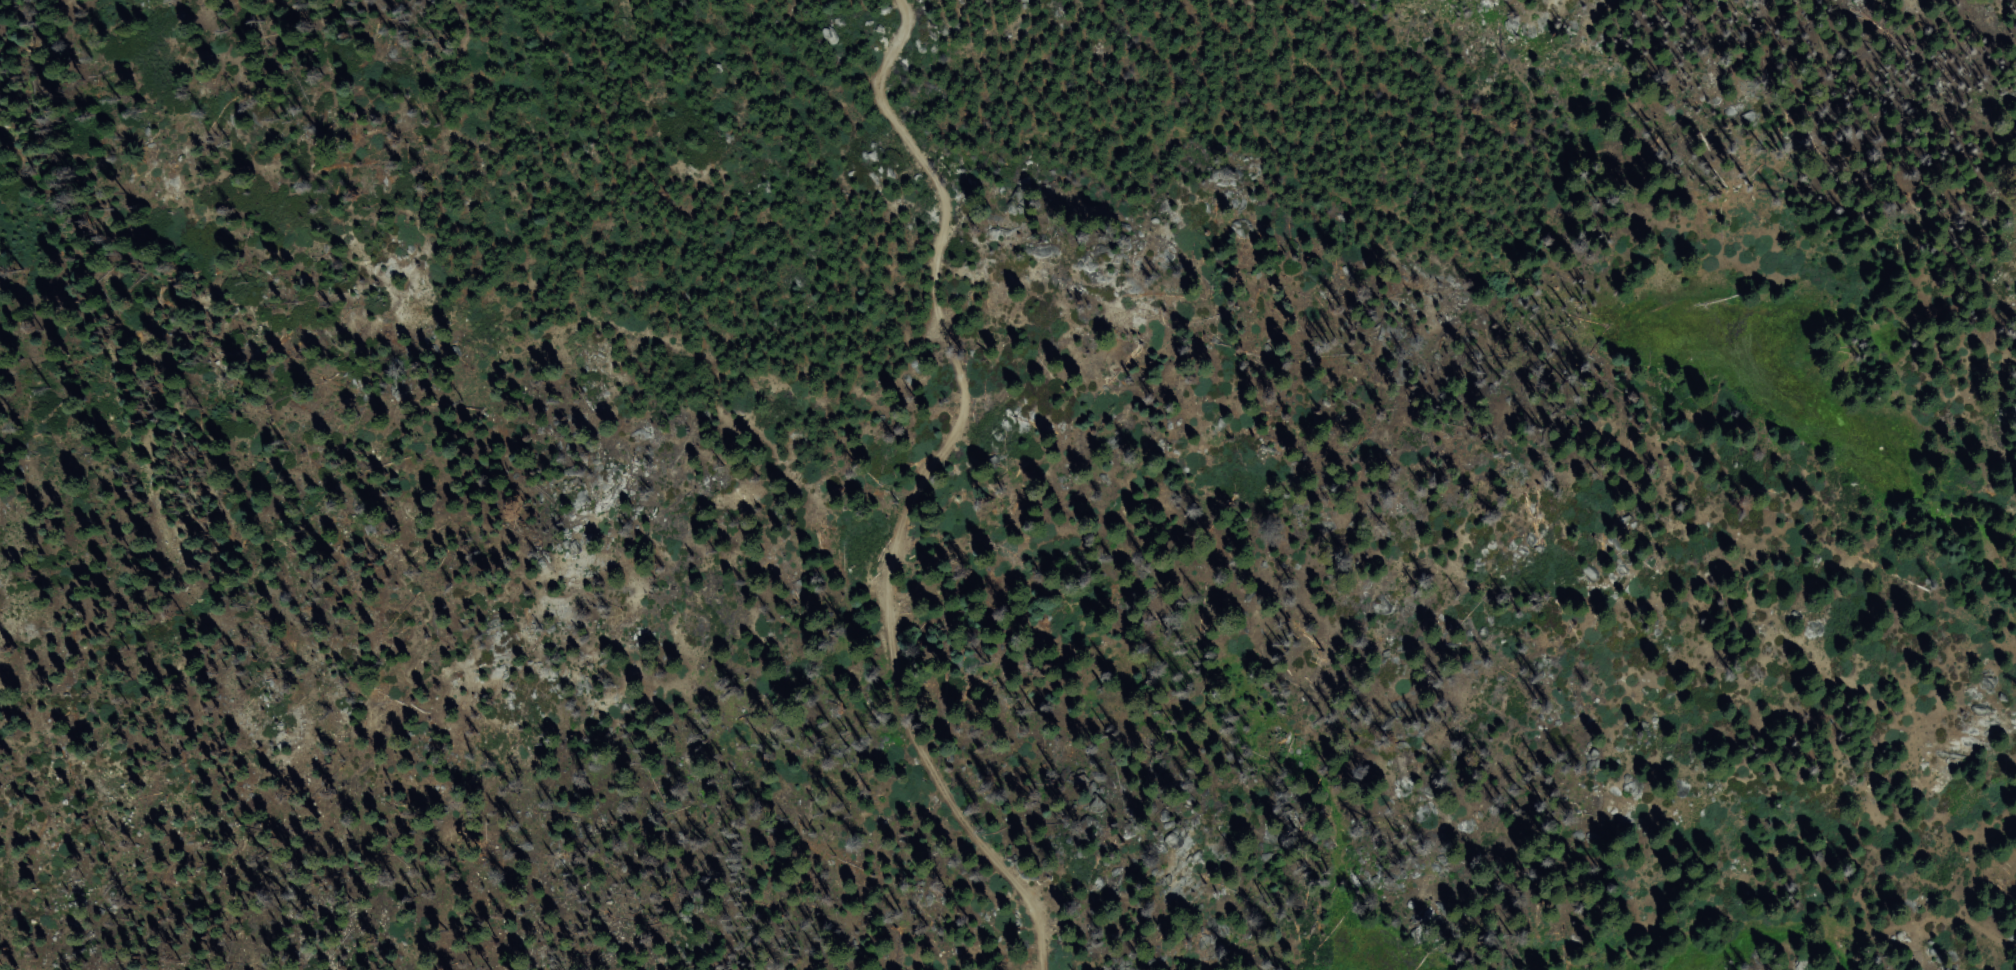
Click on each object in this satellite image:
road: (917, 487)
building: (1590, 579)

